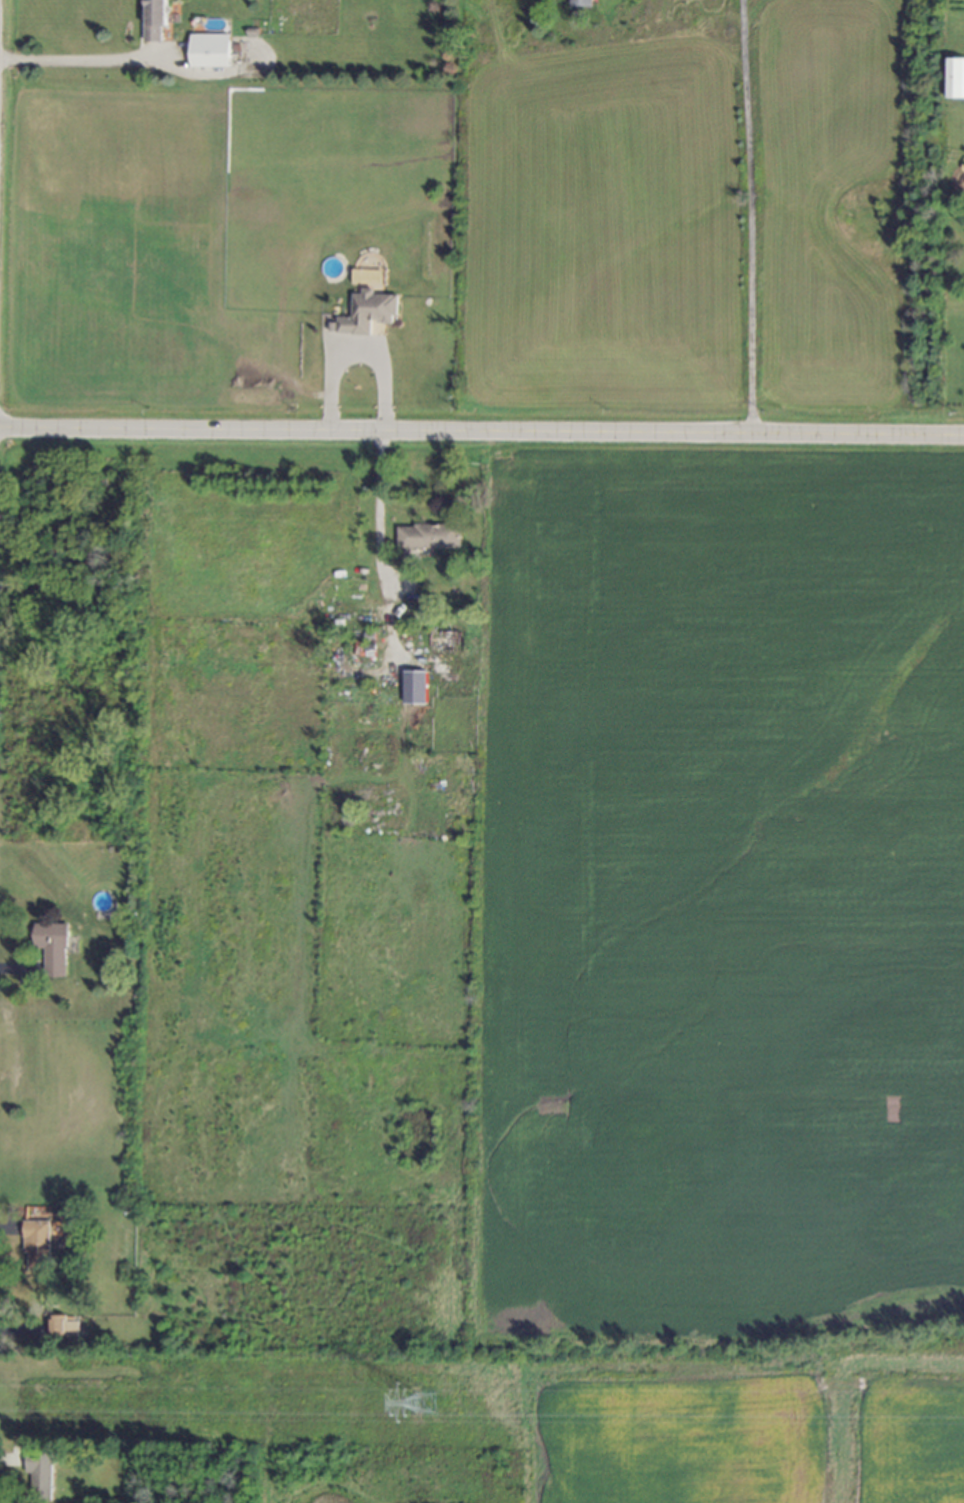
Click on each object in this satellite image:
building: (581, 3)
building: (155, 19)
building: (210, 50)
road: (84, 61)
building: (954, 78)
road: (749, 217)
crop: (142, 244)
building: (368, 313)
road: (356, 342)
road: (482, 434)
road: (379, 532)
building: (428, 536)
building: (414, 688)
building: (52, 948)
crop: (726, 972)
building: (38, 1244)
building: (65, 1326)
power tower: (427, 1399)
building: (41, 1473)

